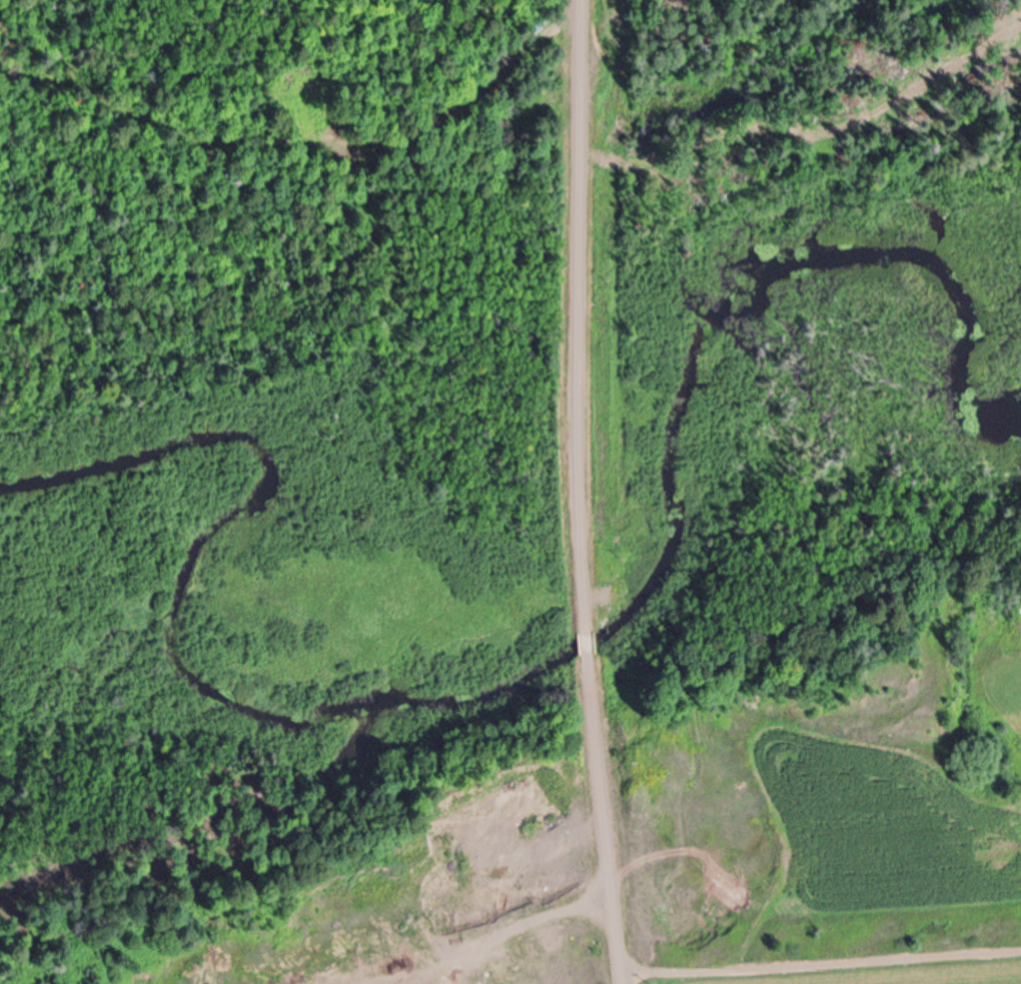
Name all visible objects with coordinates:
road: (581, 493)
road: (822, 967)

